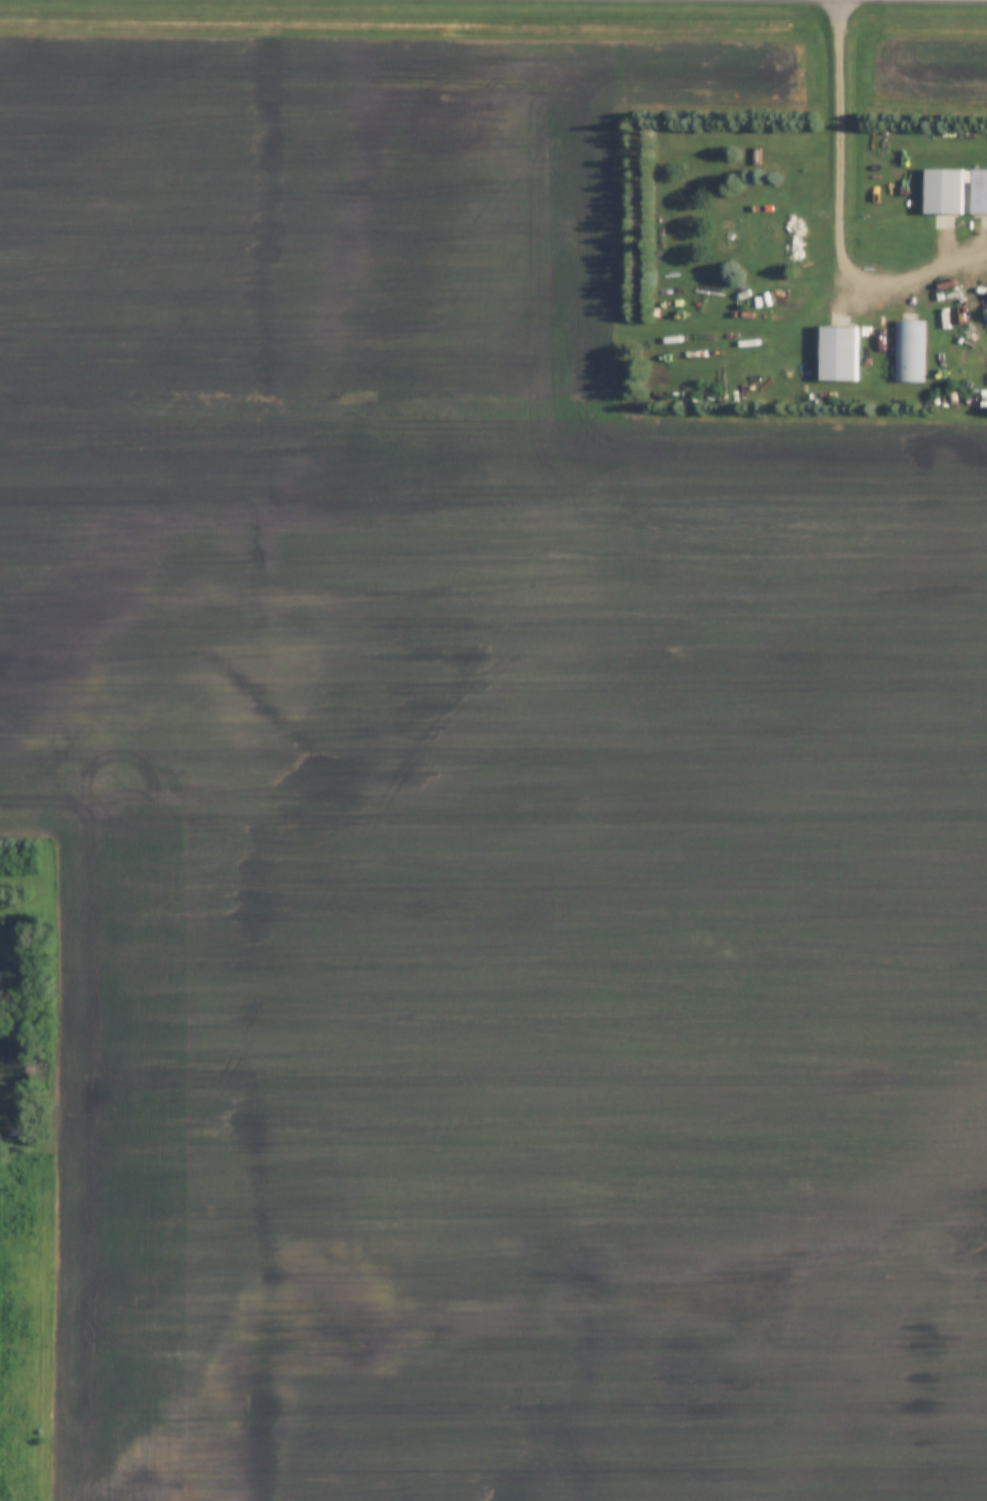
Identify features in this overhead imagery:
road: (842, 149)
building: (954, 192)
building: (759, 229)
road: (915, 275)
building: (909, 349)
building: (838, 350)
building: (802, 372)
building: (12, 1127)

